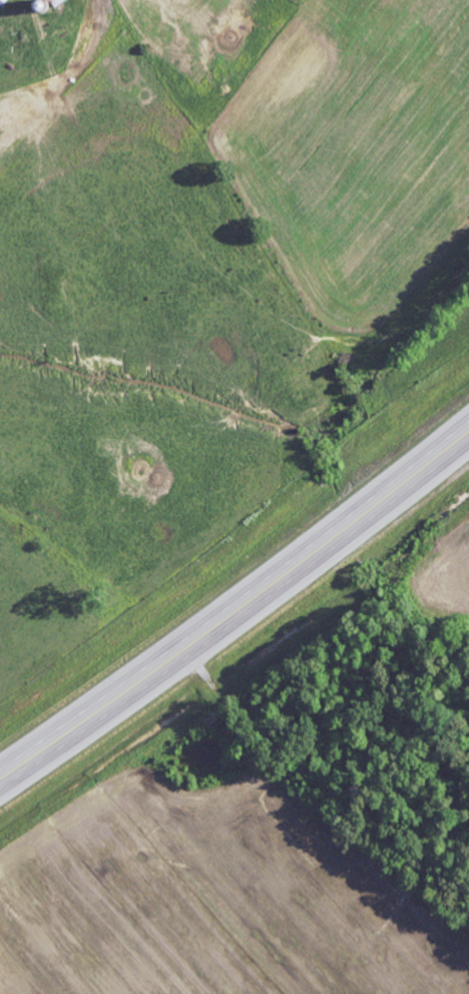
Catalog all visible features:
building: (59, 2)
road: (238, 611)

